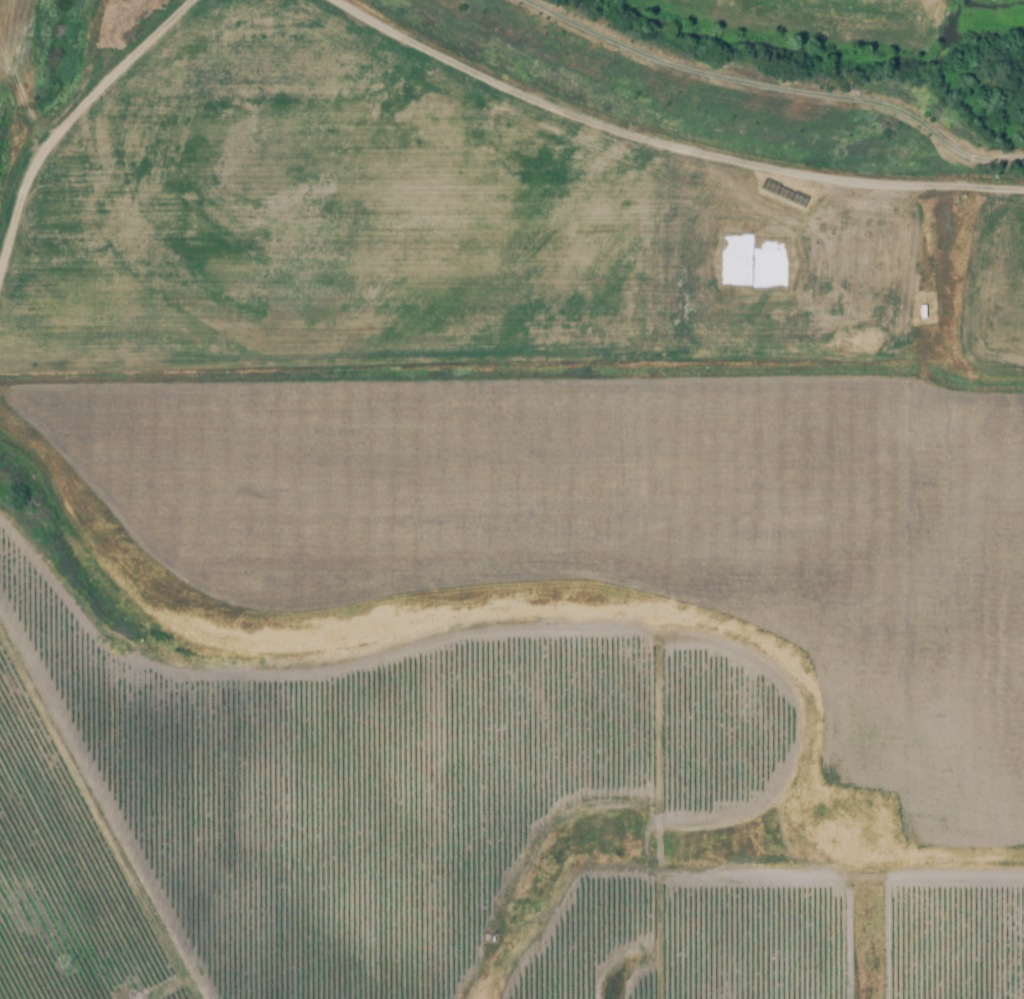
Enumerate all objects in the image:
road: (993, 234)
road: (993, 266)
crop: (997, 280)
road: (962, 281)

